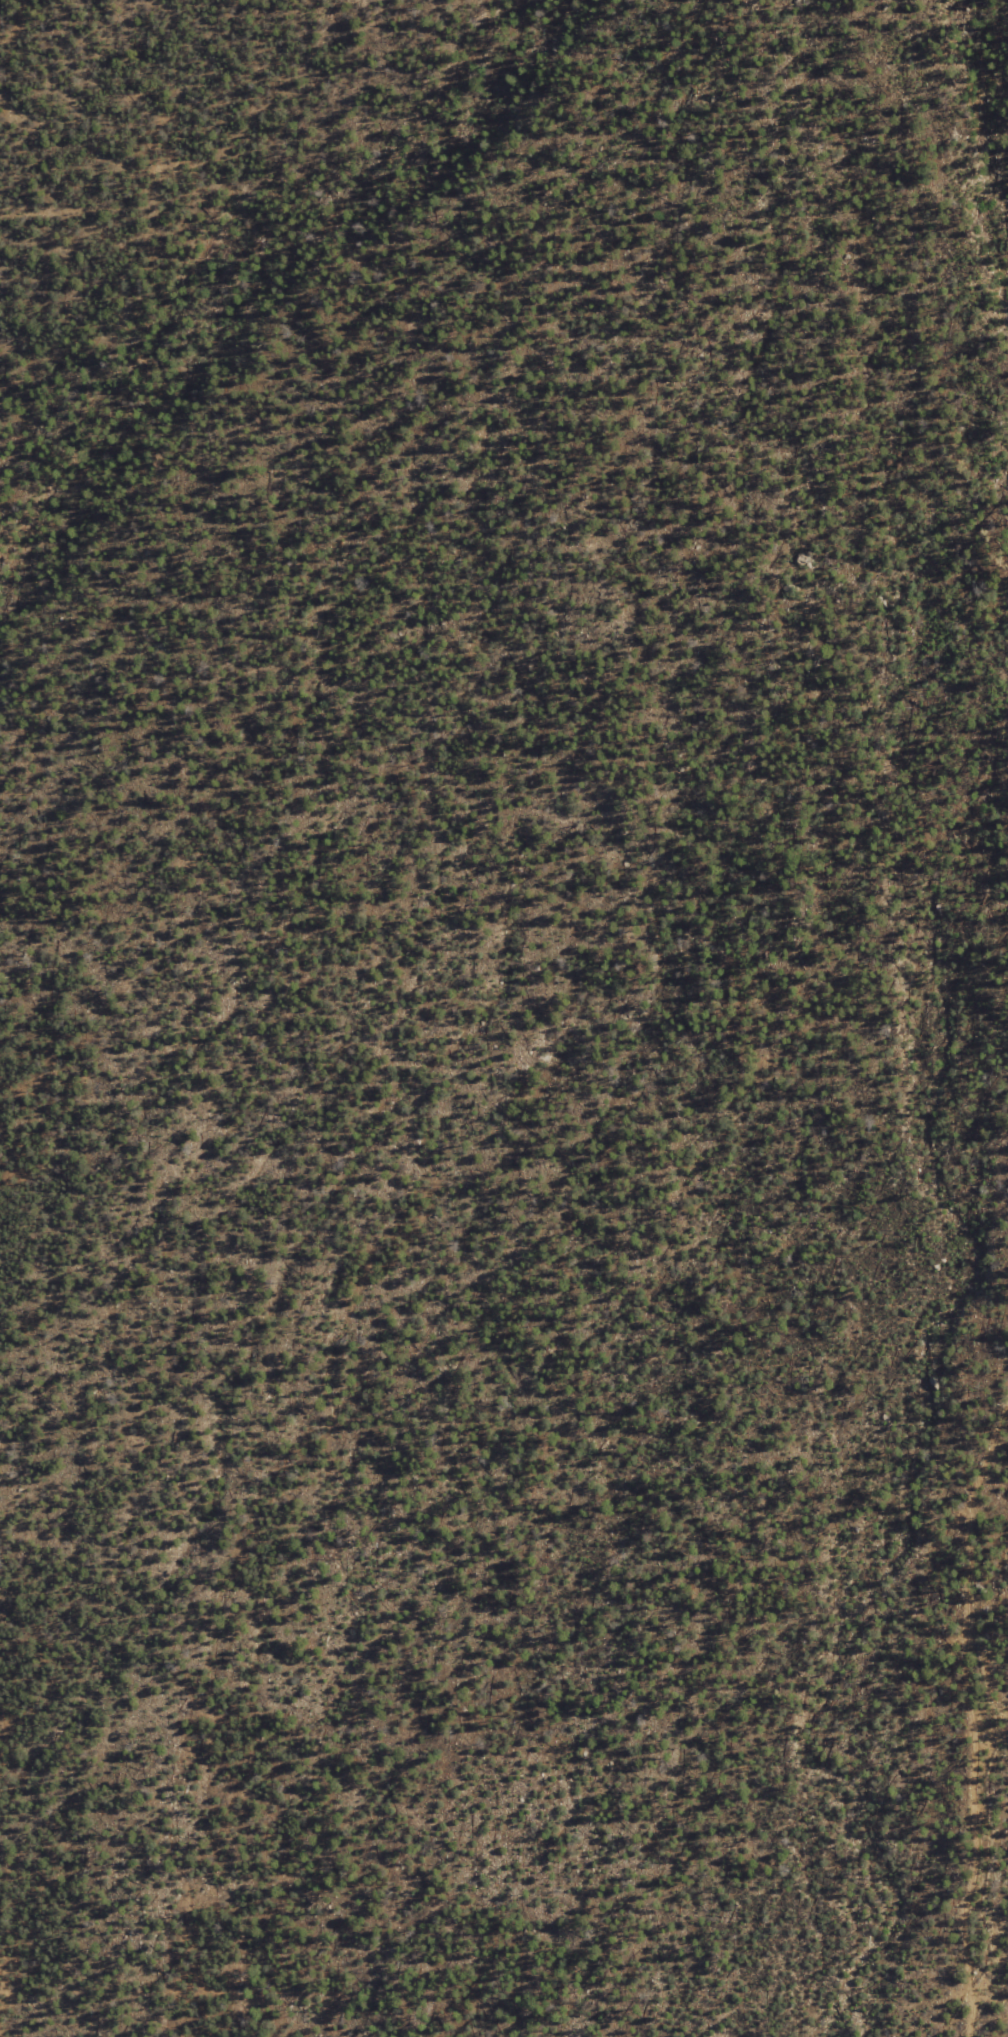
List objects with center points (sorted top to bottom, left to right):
road: (505, 320)

